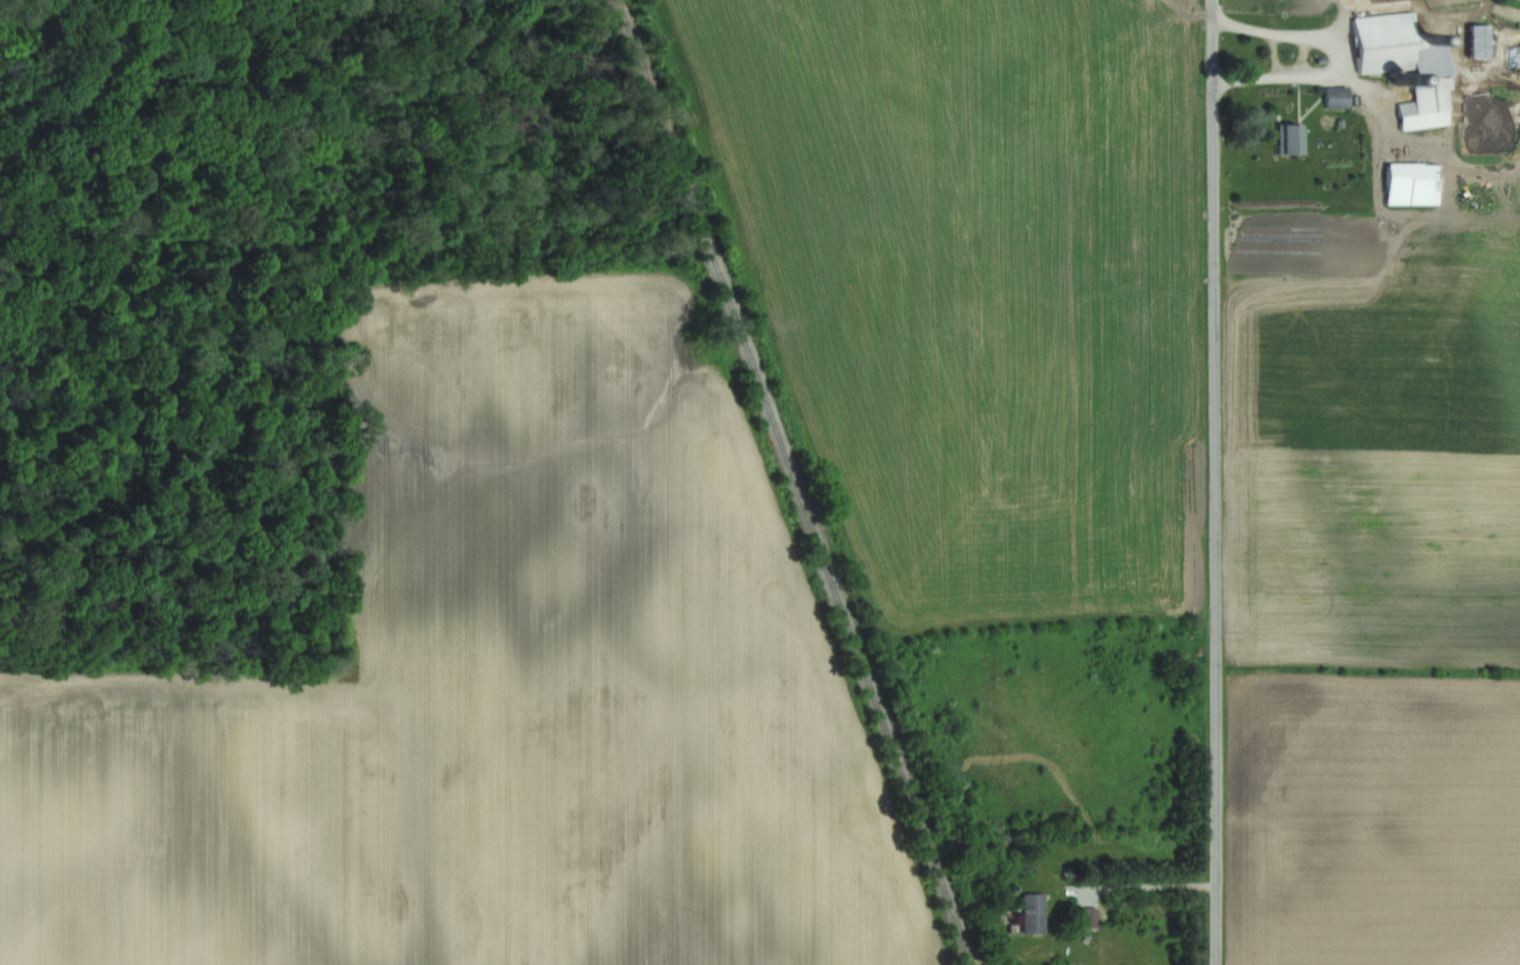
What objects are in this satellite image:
building: (1483, 42)
building: (1400, 47)
road: (1335, 60)
building: (1339, 99)
building: (1427, 115)
building: (1296, 141)
railway: (805, 482)
road: (1215, 482)
road: (1138, 885)
building: (1036, 913)

